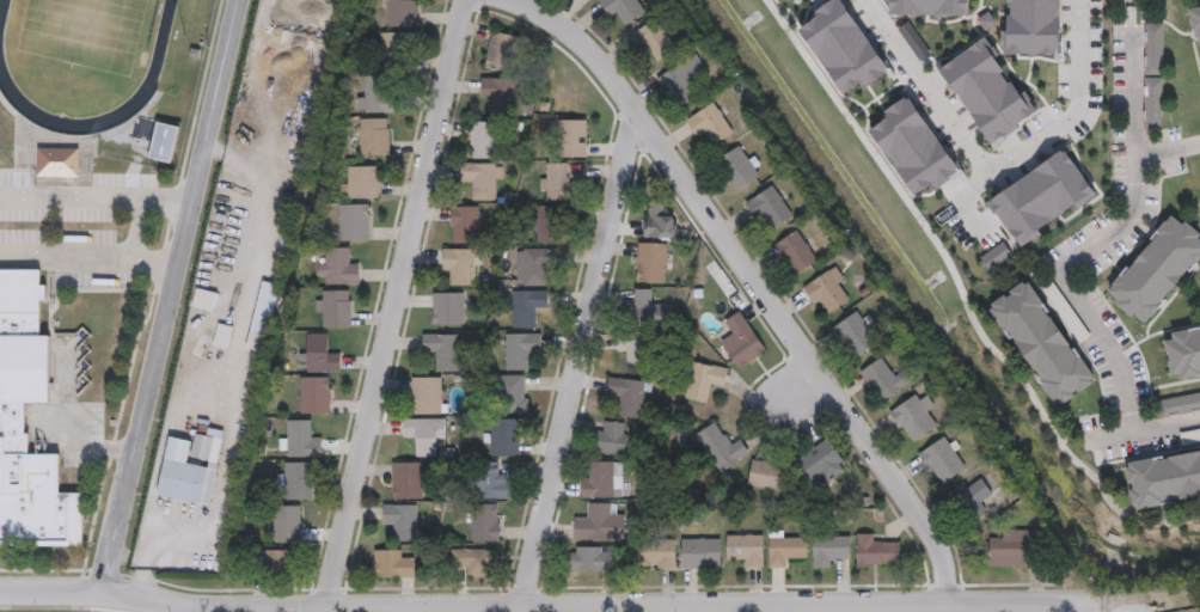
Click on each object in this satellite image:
building: (930, 7)
building: (623, 8)
building: (402, 12)
building: (1195, 20)
building: (1031, 26)
park: (84, 31)
building: (653, 39)
building: (844, 47)
building: (1153, 48)
building: (393, 49)
building: (501, 51)
track: (153, 69)
building: (682, 80)
building: (988, 87)
building: (376, 93)
building: (498, 93)
building: (1153, 103)
building: (708, 123)
building: (374, 136)
building: (574, 137)
building: (483, 140)
building: (164, 142)
building: (913, 146)
road: (1167, 149)
building: (57, 163)
building: (737, 169)
road: (991, 171)
building: (482, 179)
building: (556, 180)
building: (360, 182)
road: (94, 196)
building: (1042, 197)
road: (963, 200)
building: (769, 207)
building: (657, 221)
building: (353, 222)
building: (551, 222)
building: (465, 224)
road: (137, 231)
building: (796, 252)
road: (87, 259)
building: (650, 262)
building: (460, 264)
building: (537, 264)
road: (1069, 264)
building: (337, 268)
building: (1157, 268)
road: (755, 279)
building: (827, 290)
road: (962, 293)
road: (169, 296)
building: (204, 299)
building: (333, 306)
road: (396, 306)
building: (526, 306)
building: (447, 307)
building: (650, 308)
building: (1066, 313)
building: (263, 317)
building: (856, 333)
building: (224, 336)
building: (740, 341)
building: (1042, 342)
building: (521, 349)
building: (635, 349)
building: (442, 350)
building: (1184, 351)
building: (323, 353)
road: (578, 360)
building: (882, 378)
building: (703, 380)
building: (512, 393)
building: (314, 394)
building: (427, 394)
building: (629, 396)
building: (1178, 405)
building: (914, 415)
road: (66, 426)
building: (13, 427)
building: (425, 434)
building: (502, 437)
building: (611, 437)
building: (300, 440)
building: (718, 448)
building: (942, 460)
building: (821, 461)
building: (189, 470)
building: (766, 475)
building: (1165, 478)
building: (406, 479)
building: (602, 479)
building: (296, 481)
building: (488, 481)
building: (975, 497)
building: (402, 521)
building: (485, 522)
building: (600, 522)
building: (287, 524)
building: (785, 547)
building: (1012, 547)
building: (745, 549)
building: (829, 549)
building: (875, 551)
building: (700, 552)
building: (655, 553)
building: (592, 558)
building: (275, 561)
building: (475, 561)
building: (394, 563)
road: (541, 602)

